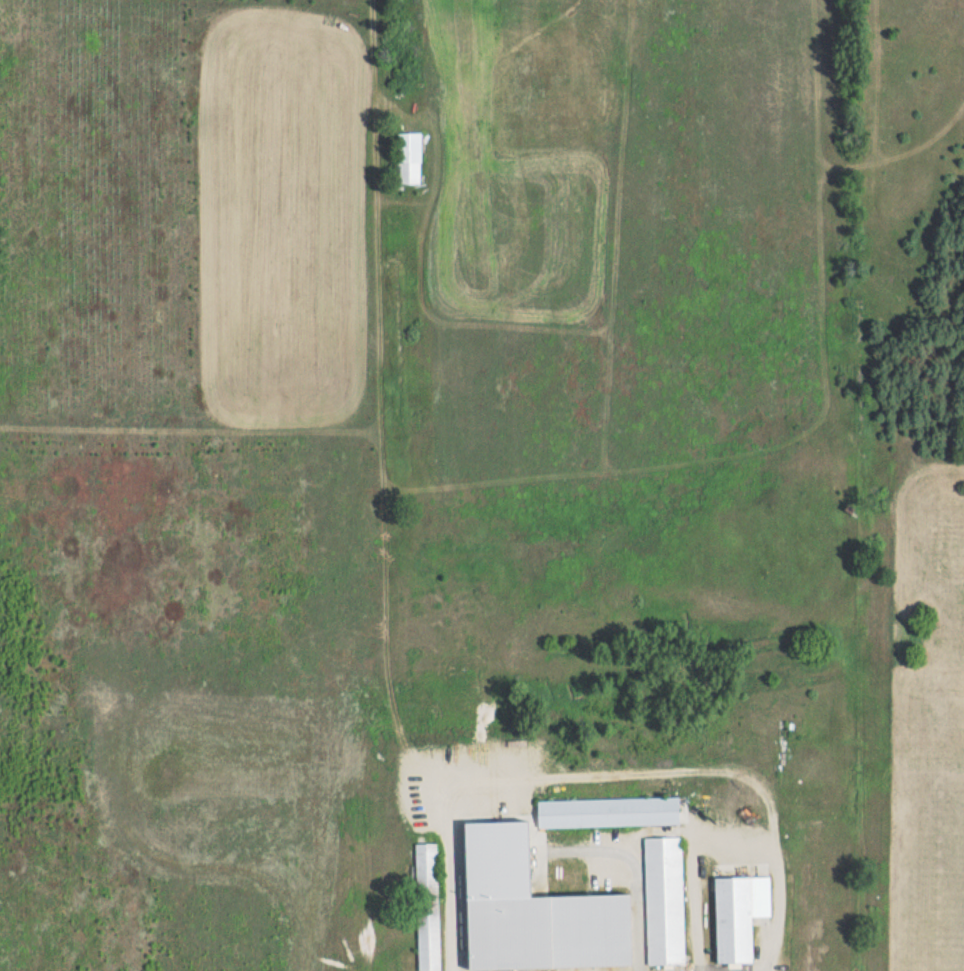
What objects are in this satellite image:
building: (608, 812)
building: (499, 866)
building: (664, 900)
building: (427, 907)
building: (739, 915)
building: (549, 931)

